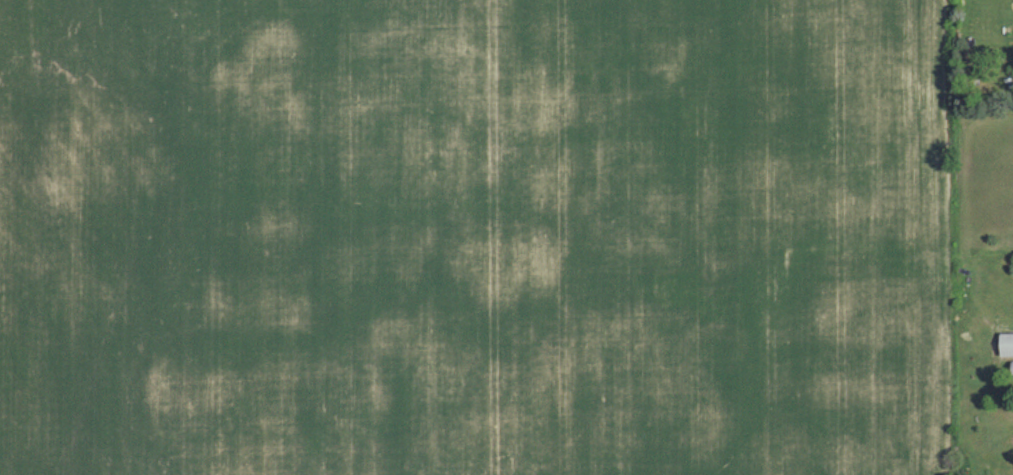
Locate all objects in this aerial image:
building: (1004, 344)
building: (1010, 367)

